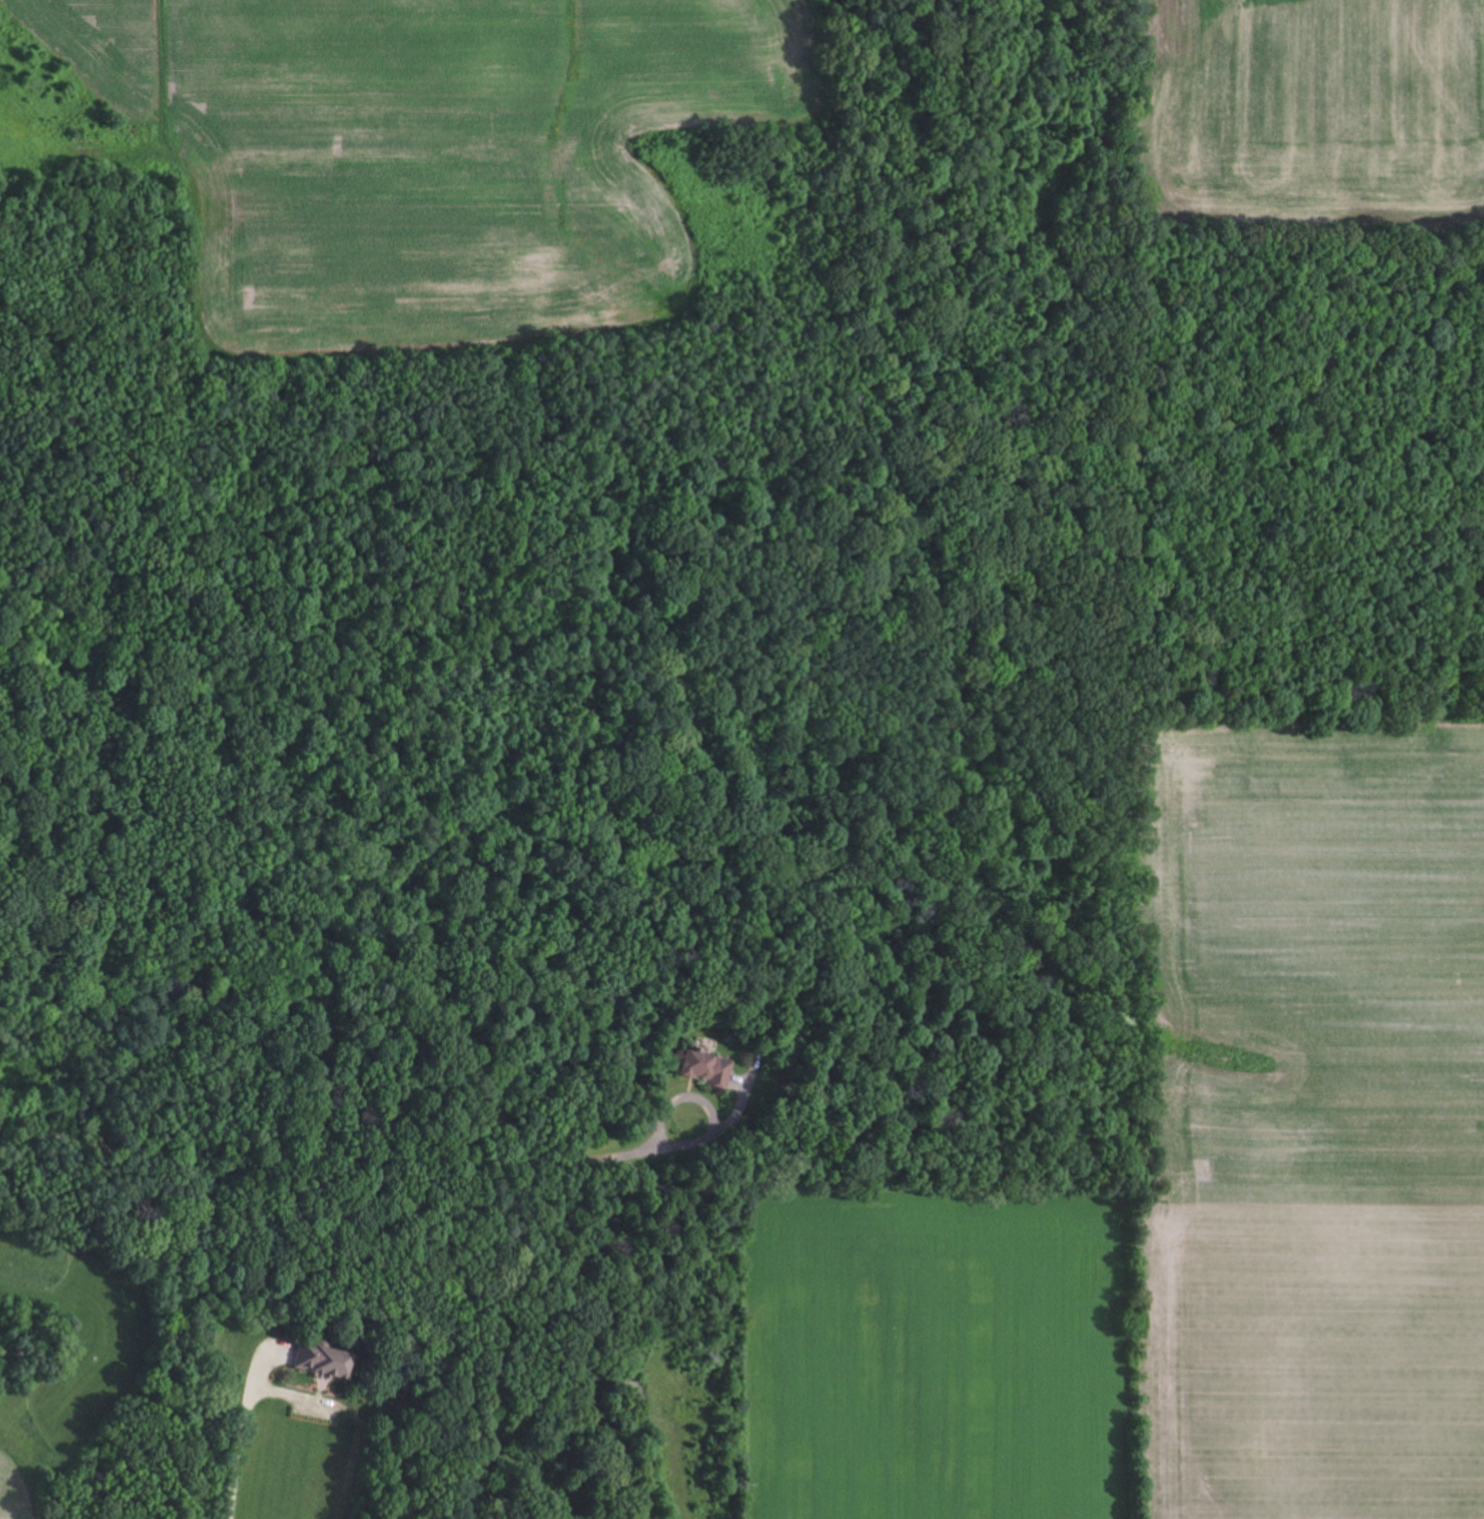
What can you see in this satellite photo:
building: (705, 1068)
building: (322, 1360)
road: (236, 1436)

